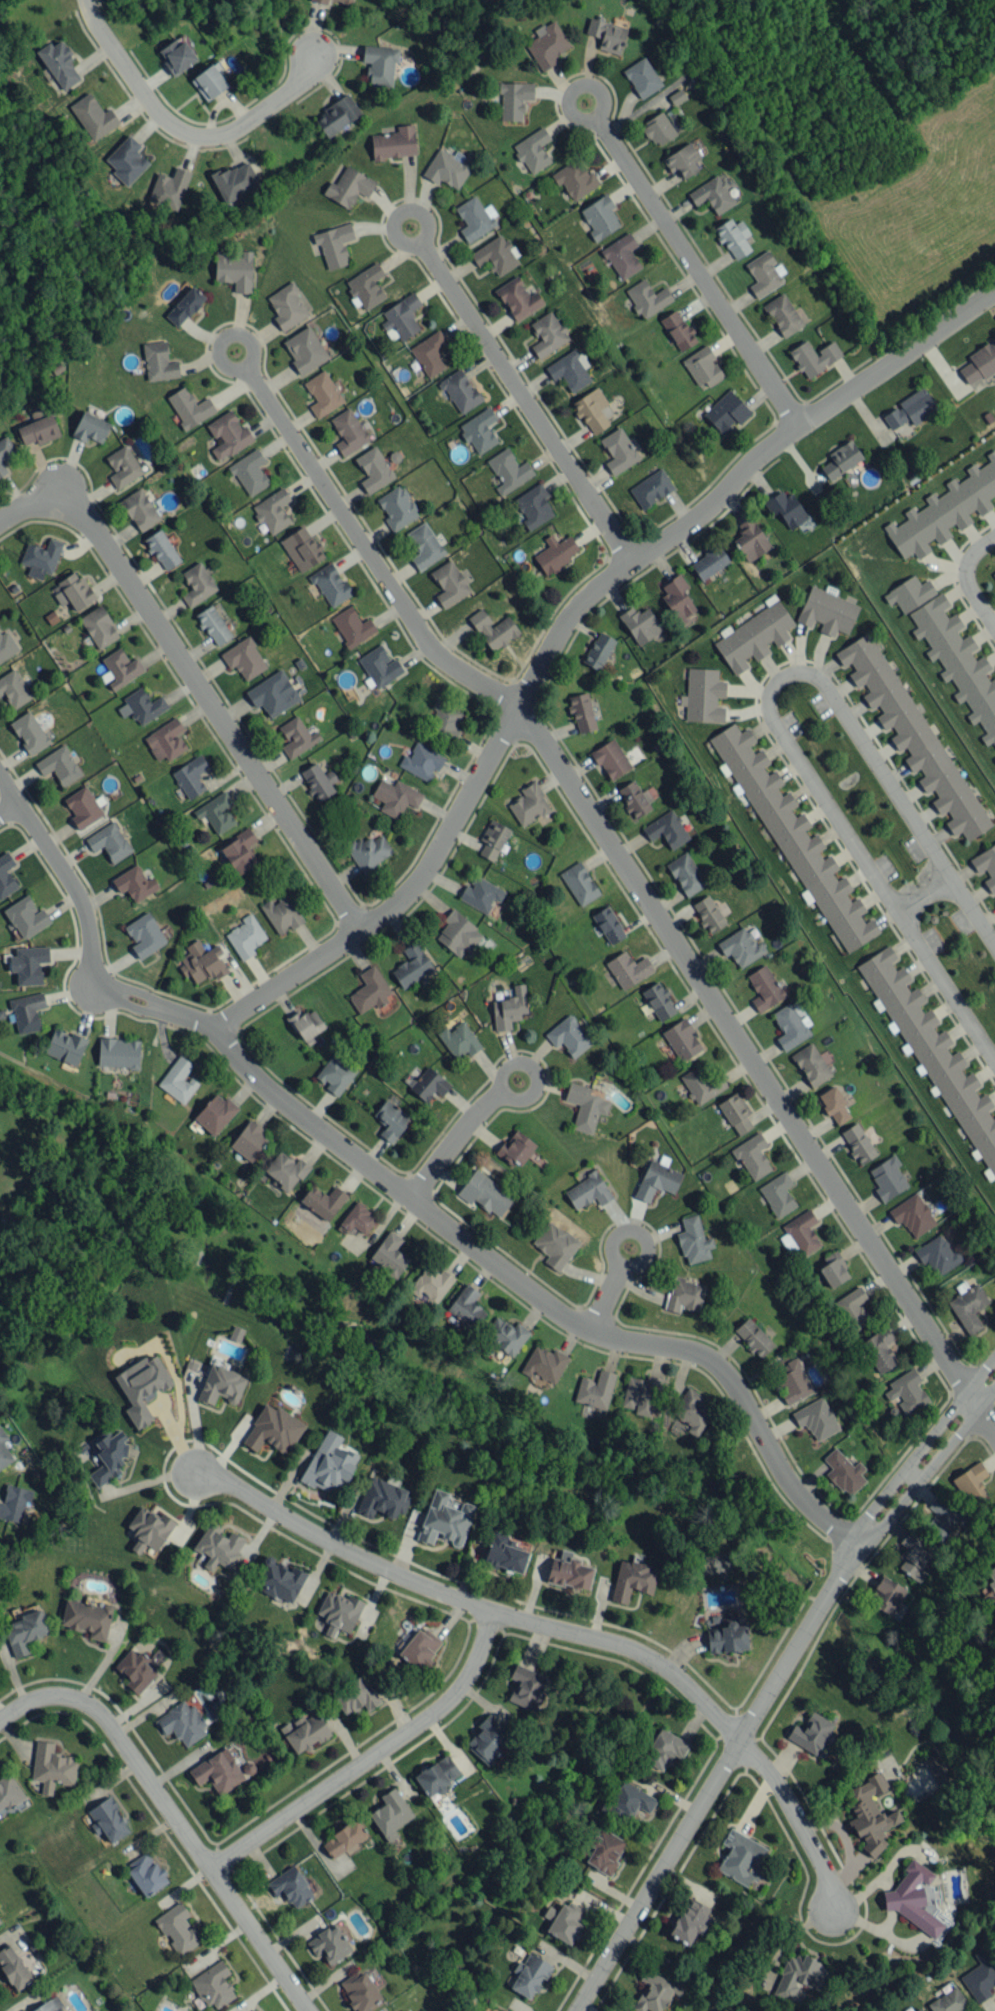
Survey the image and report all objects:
building: (321, 1)
building: (345, 1)
building: (607, 35)
building: (547, 44)
building: (176, 55)
building: (59, 64)
building: (379, 64)
building: (642, 77)
building: (210, 81)
road: (590, 88)
building: (514, 99)
building: (337, 115)
building: (93, 116)
building: (658, 129)
road: (185, 134)
building: (394, 143)
building: (533, 150)
building: (126, 160)
building: (682, 160)
building: (449, 167)
building: (575, 178)
building: (235, 181)
building: (348, 186)
building: (169, 188)
building: (712, 194)
road: (410, 214)
building: (475, 217)
building: (600, 217)
building: (733, 237)
building: (334, 245)
building: (496, 255)
building: (622, 255)
building: (234, 269)
building: (764, 272)
road: (701, 275)
building: (365, 286)
building: (518, 298)
building: (647, 298)
building: (184, 306)
building: (286, 306)
building: (783, 315)
building: (401, 317)
building: (679, 330)
building: (548, 333)
road: (249, 340)
building: (304, 349)
building: (429, 353)
building: (814, 356)
building: (158, 361)
building: (979, 363)
building: (702, 366)
building: (569, 369)
building: (460, 390)
building: (322, 393)
road: (530, 405)
building: (190, 407)
building: (591, 409)
building: (911, 409)
building: (726, 411)
building: (38, 427)
building: (90, 427)
building: (479, 430)
building: (348, 431)
building: (228, 434)
building: (618, 450)
building: (5, 452)
building: (841, 459)
building: (122, 466)
building: (373, 469)
building: (508, 470)
building: (250, 471)
building: (650, 487)
building: (532, 506)
building: (397, 507)
building: (786, 507)
building: (139, 509)
building: (944, 510)
building: (272, 511)
building: (750, 539)
building: (424, 545)
building: (301, 548)
building: (162, 549)
building: (555, 553)
road: (371, 556)
building: (40, 558)
building: (709, 562)
building: (994, 573)
road: (967, 576)
building: (450, 582)
building: (197, 584)
building: (330, 584)
building: (73, 591)
building: (909, 593)
building: (678, 601)
building: (827, 611)
building: (639, 623)
building: (213, 625)
road: (561, 625)
building: (99, 626)
building: (352, 626)
building: (493, 629)
building: (753, 635)
building: (6, 644)
building: (598, 650)
building: (2, 657)
building: (244, 658)
building: (959, 663)
building: (379, 666)
building: (121, 667)
road: (196, 685)
building: (13, 688)
building: (0, 693)
building: (273, 693)
building: (703, 695)
building: (141, 706)
building: (582, 712)
road: (773, 717)
building: (445, 719)
building: (29, 732)
building: (911, 733)
building: (296, 736)
building: (166, 740)
building: (610, 758)
building: (421, 761)
building: (58, 765)
building: (190, 776)
building: (318, 781)
building: (395, 797)
building: (635, 799)
road: (8, 804)
building: (529, 804)
building: (83, 807)
building: (216, 812)
building: (667, 829)
building: (493, 839)
building: (794, 839)
building: (109, 841)
building: (240, 851)
building: (368, 852)
building: (987, 864)
building: (5, 873)
building: (686, 873)
building: (134, 883)
building: (579, 883)
building: (480, 893)
road: (925, 893)
building: (708, 913)
building: (281, 914)
building: (26, 916)
building: (608, 924)
building: (458, 933)
building: (144, 935)
building: (245, 936)
building: (740, 946)
building: (200, 963)
building: (28, 964)
building: (411, 965)
building: (628, 968)
building: (764, 987)
building: (369, 990)
building: (659, 1000)
building: (509, 1009)
building: (27, 1011)
building: (306, 1023)
building: (790, 1026)
building: (568, 1036)
building: (459, 1040)
building: (682, 1040)
building: (65, 1046)
building: (118, 1052)
building: (934, 1054)
road: (748, 1055)
road: (532, 1062)
building: (811, 1064)
building: (336, 1072)
building: (178, 1080)
building: (429, 1084)
building: (701, 1084)
building: (833, 1104)
building: (585, 1106)
building: (736, 1112)
building: (215, 1113)
building: (390, 1119)
building: (248, 1140)
road: (451, 1143)
building: (858, 1143)
building: (515, 1148)
building: (752, 1155)
building: (285, 1171)
building: (887, 1178)
building: (657, 1179)
road: (397, 1191)
building: (587, 1191)
building: (485, 1193)
building: (778, 1194)
building: (322, 1200)
building: (912, 1214)
building: (358, 1218)
building: (800, 1233)
building: (693, 1240)
building: (555, 1244)
road: (649, 1249)
building: (937, 1254)
building: (388, 1255)
building: (833, 1269)
building: (431, 1284)
building: (684, 1294)
road: (604, 1302)
building: (967, 1306)
building: (466, 1308)
building: (851, 1309)
building: (506, 1335)
building: (753, 1337)
building: (879, 1350)
building: (544, 1364)
building: (792, 1381)
building: (221, 1384)
building: (142, 1387)
building: (595, 1389)
building: (906, 1392)
building: (642, 1394)
building: (692, 1411)
building: (816, 1418)
road: (986, 1418)
building: (273, 1429)
road: (924, 1443)
building: (108, 1456)
building: (330, 1463)
road: (931, 1465)
building: (844, 1472)
building: (970, 1482)
building: (383, 1497)
building: (14, 1502)
building: (940, 1518)
building: (444, 1519)
building: (149, 1528)
building: (218, 1546)
building: (504, 1553)
building: (569, 1573)
building: (991, 1575)
building: (632, 1579)
building: (281, 1582)
building: (887, 1594)
building: (338, 1612)
building: (86, 1618)
road: (563, 1627)
building: (25, 1631)
road: (798, 1637)
building: (727, 1638)
building: (420, 1648)
building: (135, 1670)
building: (526, 1686)
building: (355, 1695)
building: (182, 1723)
building: (304, 1732)
building: (811, 1733)
building: (487, 1739)
building: (664, 1749)
road: (372, 1754)
building: (52, 1767)
building: (934, 1769)
building: (217, 1771)
building: (437, 1775)
building: (631, 1799)
building: (614, 1813)
road: (173, 1814)
building: (390, 1814)
building: (870, 1815)
building: (108, 1820)
building: (344, 1838)
building: (604, 1850)
building: (741, 1857)
building: (146, 1874)
road: (658, 1875)
building: (290, 1886)
building: (912, 1898)
building: (564, 1921)
building: (690, 1921)
building: (0, 1922)
building: (178, 1928)
building: (329, 1943)
building: (14, 1967)
building: (529, 1975)
building: (799, 1975)
building: (980, 1977)
building: (213, 1985)
building: (359, 1990)
building: (655, 1991)
building: (948, 1999)
building: (48, 2006)
building: (491, 2009)
building: (918, 2009)
building: (253, 2010)
building: (506, 2010)

